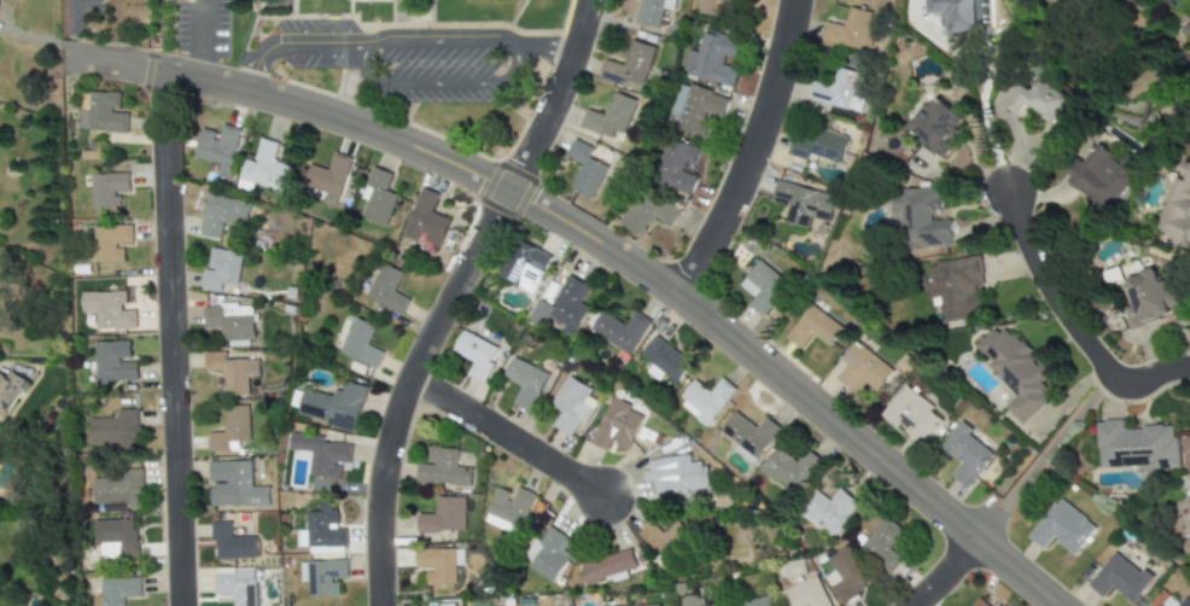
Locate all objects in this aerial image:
building: (369, 1)
building: (708, 7)
building: (652, 11)
building: (953, 14)
building: (850, 30)
road: (399, 41)
road: (198, 43)
building: (711, 59)
building: (629, 64)
road: (436, 83)
building: (836, 91)
building: (1040, 101)
building: (694, 109)
building: (101, 112)
building: (608, 117)
road: (986, 118)
building: (937, 126)
building: (816, 144)
building: (217, 148)
road: (747, 153)
building: (676, 165)
building: (262, 169)
building: (584, 169)
building: (327, 175)
building: (1101, 176)
building: (107, 191)
building: (377, 197)
building: (803, 203)
building: (1177, 206)
building: (222, 214)
building: (647, 214)
building: (918, 217)
building: (426, 218)
road: (579, 234)
building: (110, 243)
building: (524, 266)
building: (221, 270)
building: (763, 286)
building: (955, 286)
building: (386, 289)
road: (451, 295)
building: (1148, 299)
building: (561, 307)
building: (107, 309)
building: (229, 320)
road: (1066, 321)
building: (812, 328)
building: (619, 330)
road: (169, 339)
building: (360, 344)
building: (476, 354)
building: (664, 359)
building: (113, 362)
building: (862, 368)
building: (232, 372)
building: (1015, 372)
building: (525, 383)
building: (10, 390)
building: (704, 400)
building: (333, 406)
building: (570, 406)
building: (911, 415)
building: (613, 427)
building: (115, 429)
building: (231, 429)
building: (748, 435)
road: (504, 437)
building: (1134, 445)
building: (322, 454)
building: (966, 454)
road: (1042, 458)
building: (442, 468)
building: (787, 470)
building: (678, 476)
building: (234, 485)
building: (118, 488)
building: (1188, 502)
building: (507, 509)
building: (828, 511)
building: (442, 515)
building: (1062, 528)
building: (322, 531)
building: (113, 537)
building: (663, 537)
building: (231, 543)
building: (883, 544)
building: (546, 554)
building: (438, 564)
building: (606, 565)
road: (945, 573)
building: (322, 576)
building: (845, 576)
building: (1120, 578)
building: (237, 585)
building: (117, 590)
building: (805, 594)
building: (1166, 600)
building: (692, 601)
building: (757, 601)
building: (976, 601)
building: (0, 605)
building: (447, 605)
building: (649, 605)
building: (717, 605)

